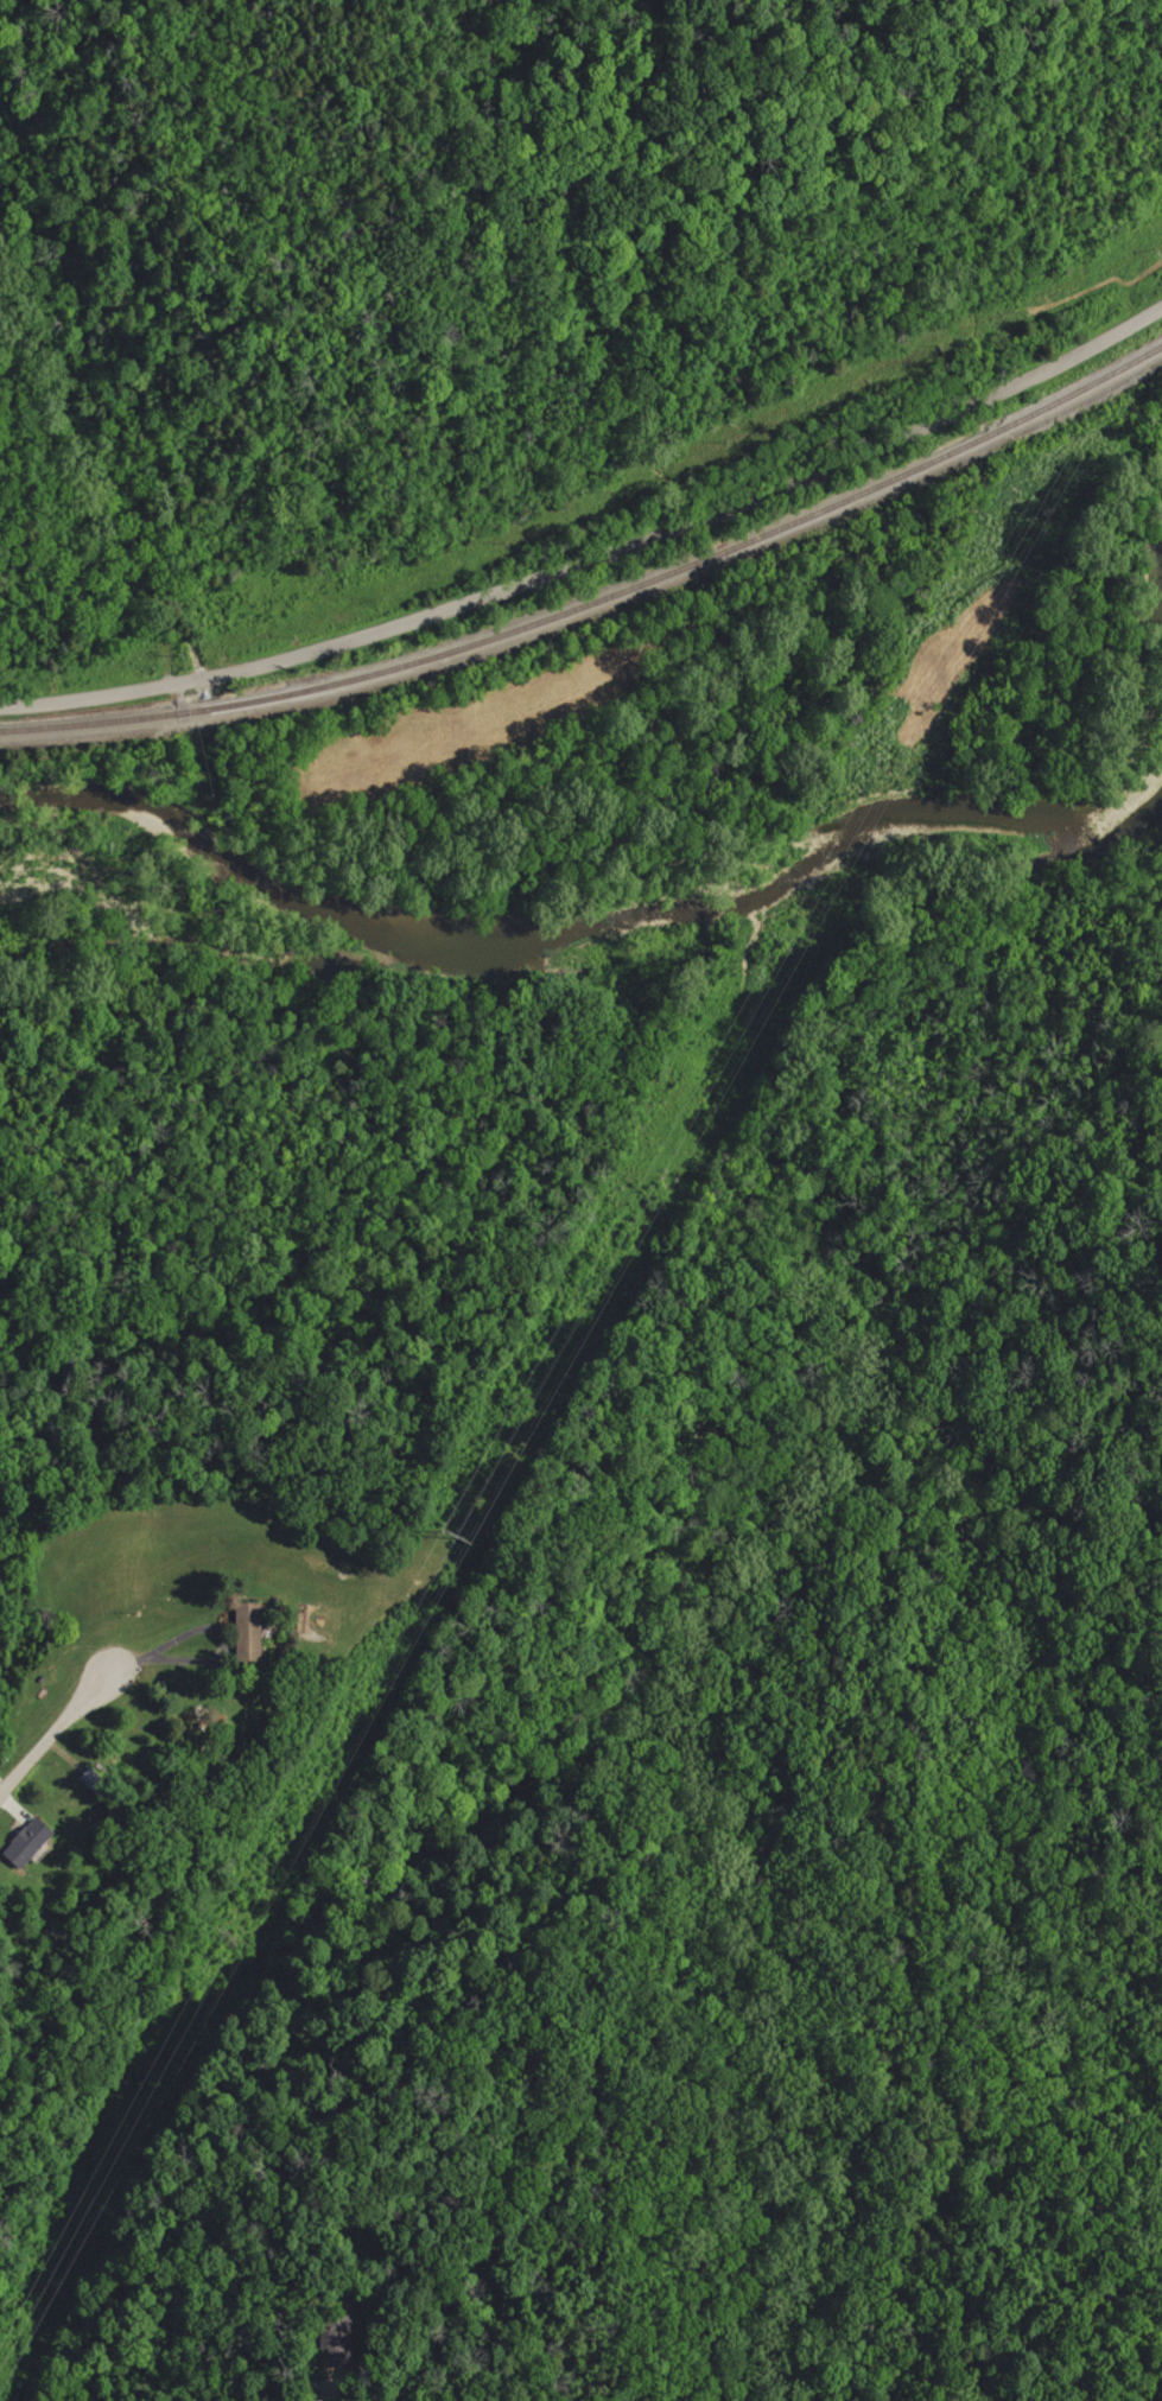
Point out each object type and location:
road: (598, 560)
railway: (601, 604)
building: (256, 1632)
road: (155, 1662)
road: (51, 1740)
building: (97, 1781)
building: (33, 1842)
building: (341, 2339)
road: (324, 2390)

